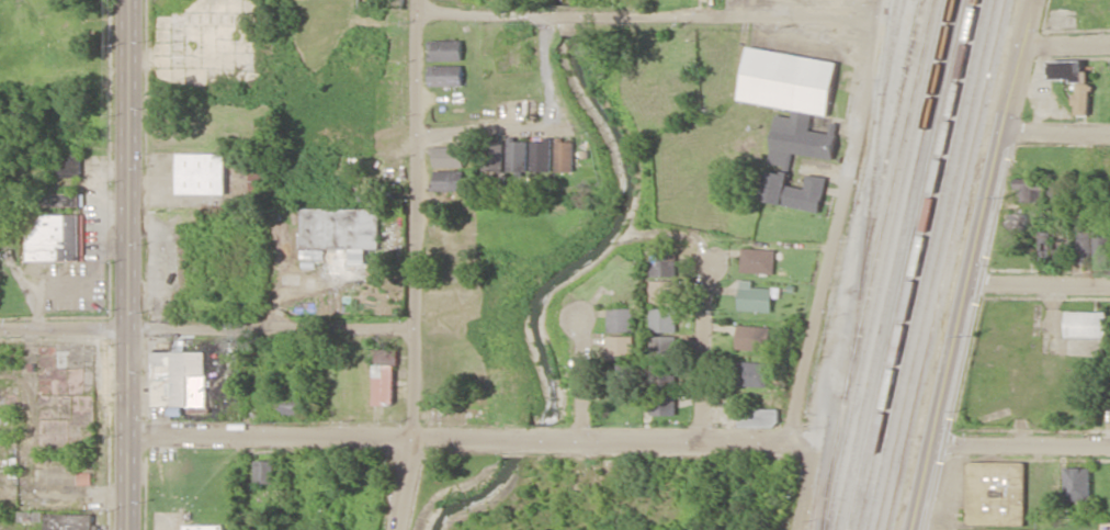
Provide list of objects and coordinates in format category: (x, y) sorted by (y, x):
road: (646, 12)
building: (179, 40)
road: (1067, 42)
railway: (890, 45)
building: (445, 49)
building: (446, 75)
building: (1084, 98)
building: (793, 117)
road: (488, 128)
road: (1056, 134)
railway: (891, 144)
building: (542, 154)
building: (565, 154)
building: (494, 155)
building: (518, 155)
building: (449, 156)
building: (69, 165)
road: (374, 170)
building: (202, 172)
building: (449, 179)
building: (1029, 189)
building: (1056, 190)
railway: (890, 196)
building: (66, 201)
building: (340, 227)
building: (55, 236)
building: (1090, 243)
building: (1045, 246)
building: (1062, 251)
building: (759, 259)
building: (664, 262)
road: (128, 264)
railway: (863, 264)
railway: (884, 264)
railway: (893, 264)
railway: (904, 264)
railway: (916, 264)
railway: (925, 264)
railway: (936, 264)
railway: (947, 264)
road: (975, 264)
road: (415, 266)
road: (827, 267)
road: (1041, 281)
building: (665, 291)
road: (272, 293)
building: (757, 295)
building: (623, 318)
building: (666, 318)
building: (1087, 323)
road: (206, 325)
building: (755, 336)
building: (623, 346)
road: (702, 347)
building: (665, 360)
building: (622, 373)
building: (755, 373)
road: (581, 374)
building: (385, 375)
building: (179, 377)
building: (665, 401)
building: (296, 403)
building: (759, 416)
road: (461, 433)
road: (1023, 444)
building: (265, 471)
building: (1078, 483)
building: (997, 492)
building: (33, 517)
building: (70, 521)
building: (204, 527)

